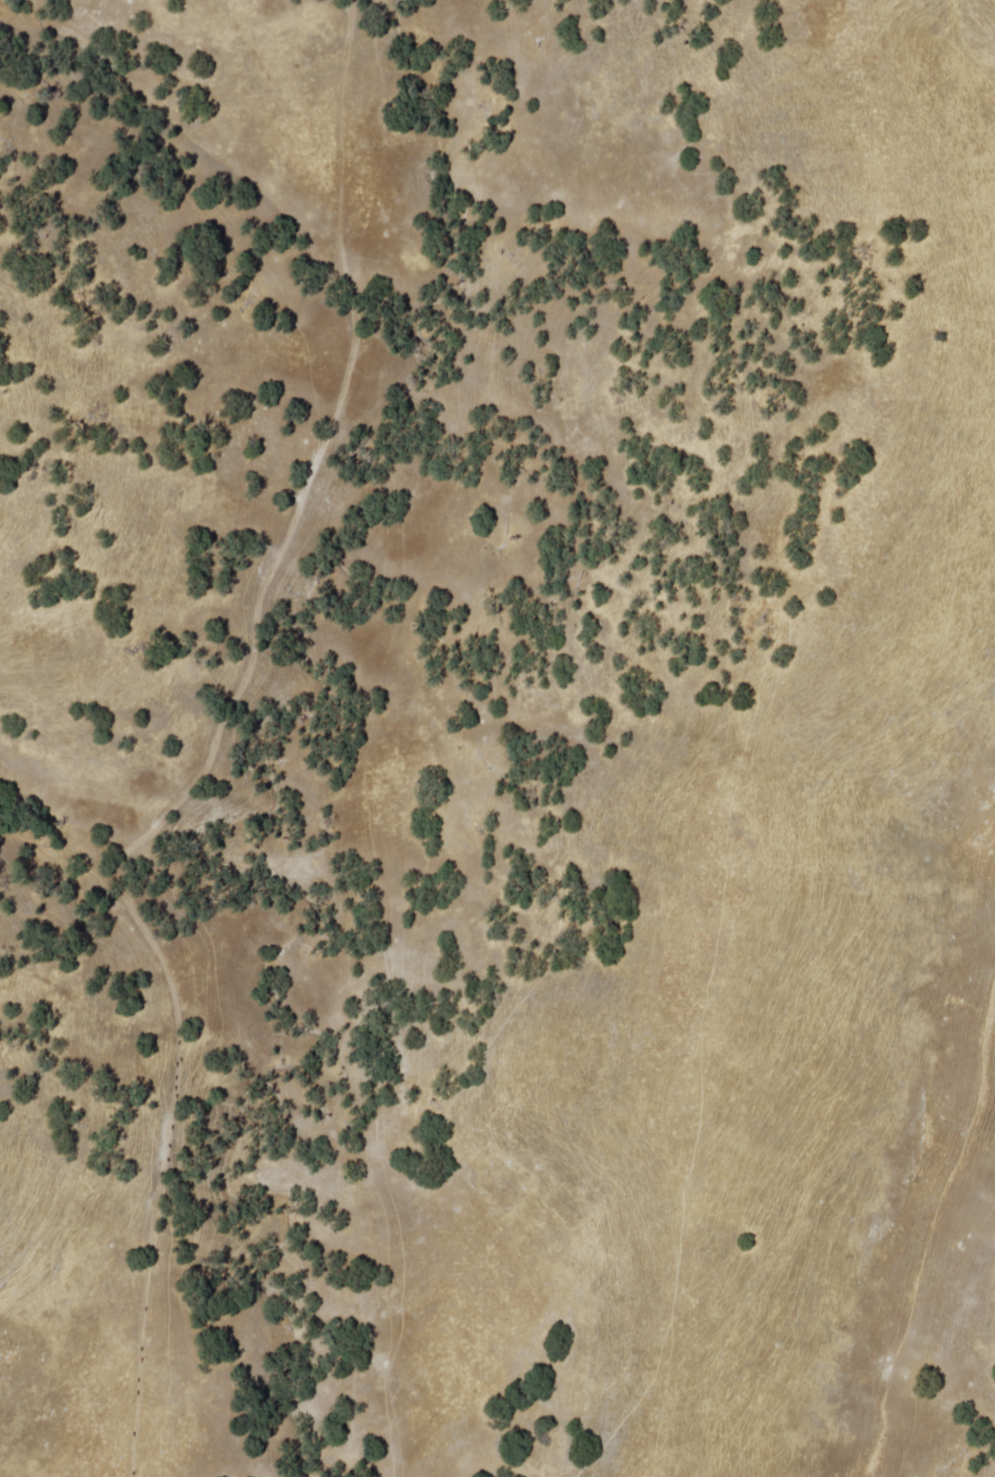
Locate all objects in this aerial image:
road: (211, 746)

